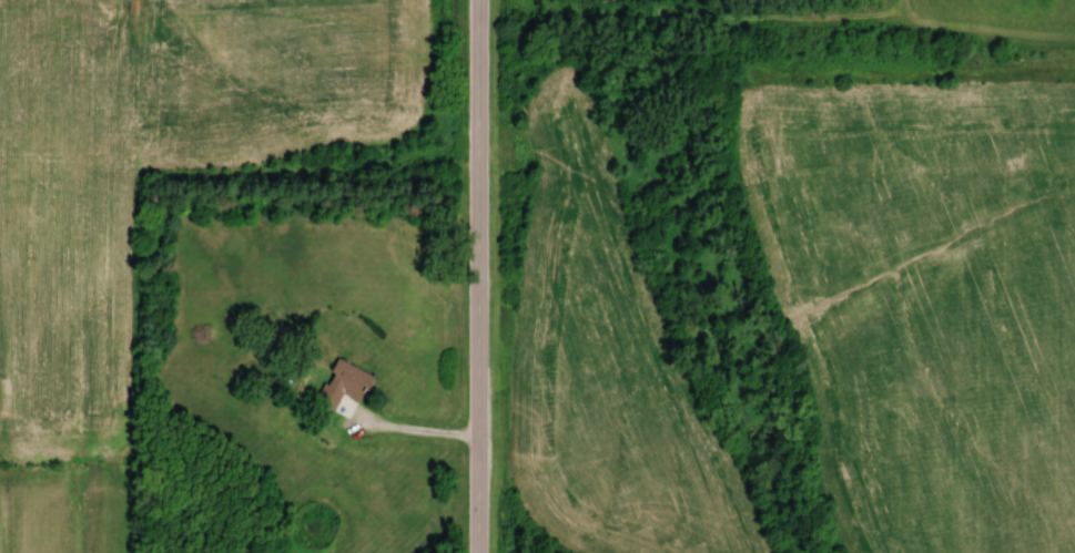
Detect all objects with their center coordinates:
road: (478, 276)
building: (339, 386)
road: (418, 431)

